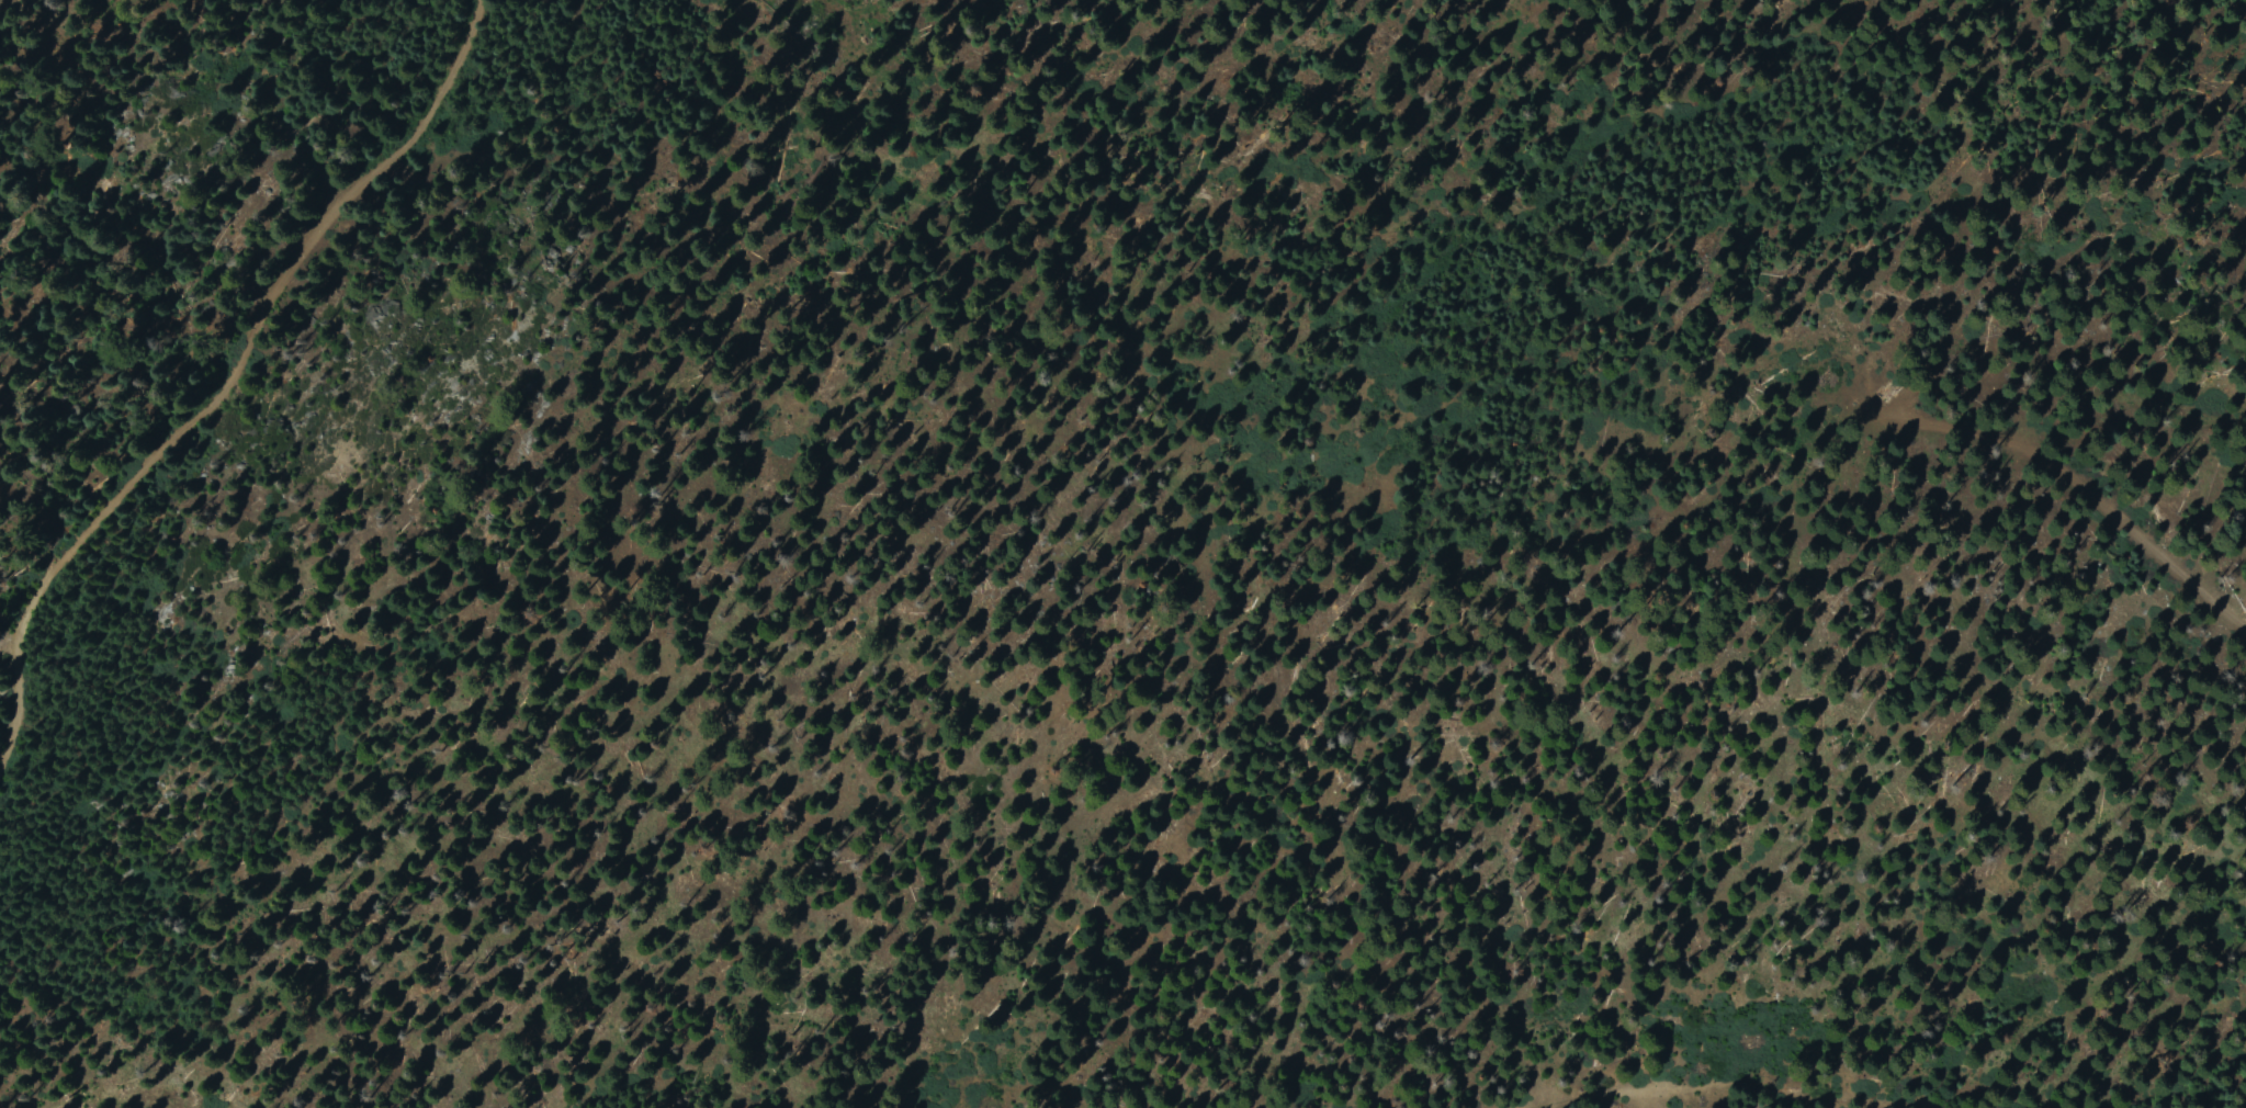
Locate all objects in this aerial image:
road: (2066, 455)

